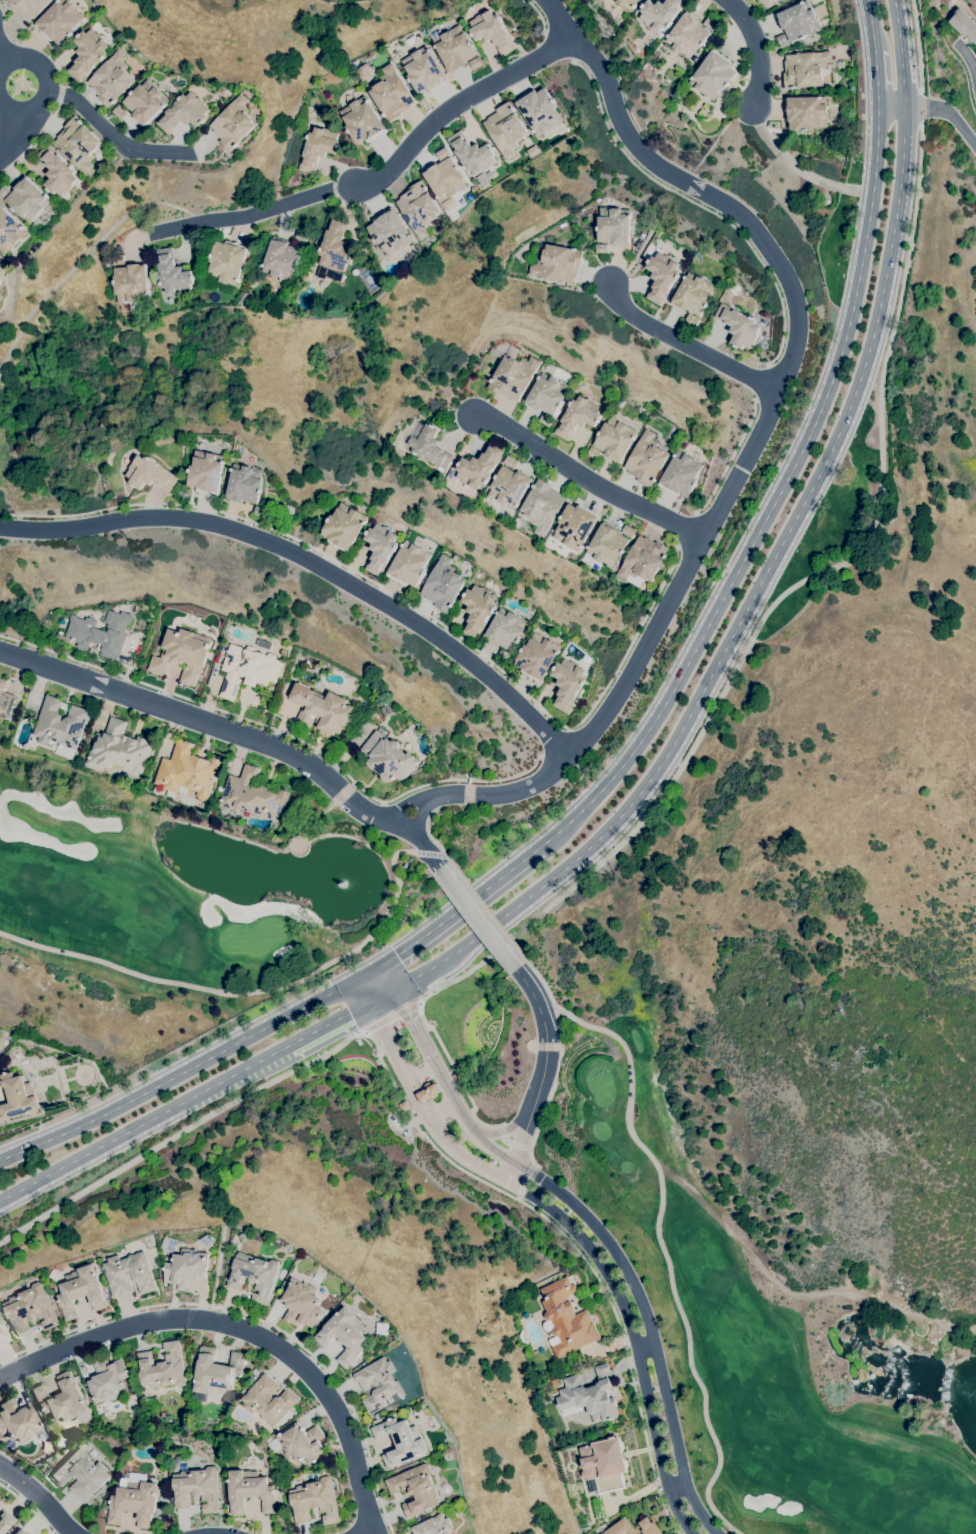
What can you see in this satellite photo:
building: (767, 2)
building: (627, 3)
park: (972, 3)
building: (952, 5)
building: (29, 6)
building: (660, 13)
road: (538, 14)
building: (60, 21)
building: (798, 21)
building: (710, 24)
building: (964, 25)
road: (872, 30)
building: (492, 32)
building: (687, 35)
building: (782, 41)
road: (560, 46)
road: (918, 46)
building: (453, 47)
road: (754, 49)
building: (975, 51)
building: (88, 53)
road: (3, 55)
road: (970, 59)
building: (475, 63)
building: (423, 69)
building: (805, 69)
building: (713, 75)
building: (111, 79)
road: (47, 84)
road: (876, 84)
building: (391, 94)
building: (145, 101)
road: (891, 107)
road: (921, 108)
building: (539, 111)
road: (947, 111)
building: (119, 112)
building: (183, 113)
building: (807, 113)
building: (362, 120)
building: (233, 123)
building: (505, 129)
road: (10, 130)
road: (111, 135)
road: (36, 139)
building: (78, 144)
building: (317, 148)
building: (532, 151)
building: (442, 153)
building: (471, 153)
road: (797, 168)
building: (57, 171)
road: (380, 179)
building: (445, 179)
building: (4, 191)
building: (27, 199)
road: (696, 206)
building: (420, 211)
building: (613, 226)
building: (9, 231)
building: (389, 232)
building: (301, 235)
building: (335, 248)
building: (601, 248)
building: (281, 259)
building: (118, 260)
building: (557, 263)
building: (107, 265)
building: (226, 265)
building: (2, 271)
building: (172, 273)
building: (661, 276)
building: (130, 283)
building: (735, 290)
building: (693, 295)
building: (247, 298)
building: (692, 319)
building: (738, 326)
road: (687, 346)
building: (513, 377)
road: (760, 382)
building: (547, 394)
building: (578, 417)
building: (546, 420)
road: (761, 421)
building: (615, 439)
building: (429, 445)
building: (593, 452)
road: (729, 458)
building: (646, 460)
building: (510, 462)
building: (478, 467)
building: (208, 472)
building: (151, 474)
building: (681, 474)
road: (588, 475)
building: (247, 484)
building: (508, 487)
building: (542, 506)
road: (771, 506)
building: (261, 511)
building: (344, 526)
building: (574, 526)
road: (686, 526)
building: (628, 531)
building: (607, 545)
building: (380, 547)
building: (643, 559)
road: (772, 559)
road: (313, 561)
building: (409, 564)
building: (443, 585)
road: (791, 587)
road: (404, 601)
building: (477, 610)
building: (505, 630)
building: (100, 633)
building: (264, 644)
building: (183, 655)
building: (505, 655)
building: (537, 656)
building: (248, 669)
building: (567, 683)
building: (282, 688)
building: (366, 693)
building: (5, 700)
building: (322, 710)
building: (60, 726)
road: (281, 732)
road: (235, 733)
road: (555, 740)
building: (119, 749)
building: (388, 758)
building: (187, 771)
building: (253, 795)
road: (404, 806)
road: (419, 814)
road: (430, 835)
road: (431, 852)
road: (395, 875)
park: (190, 891)
road: (461, 907)
road: (488, 908)
road: (477, 916)
road: (351, 950)
traffic signals: (396, 956)
road: (367, 972)
road: (388, 976)
road: (456, 978)
road: (440, 986)
road: (258, 990)
road: (360, 992)
road: (381, 996)
road: (423, 996)
road: (400, 999)
road: (413, 1006)
traffic signals: (349, 1013)
road: (372, 1014)
road: (383, 1020)
fountain: (432, 1022)
road: (326, 1025)
road: (545, 1029)
road: (420, 1037)
road: (547, 1046)
fountain: (377, 1053)
road: (558, 1062)
road: (400, 1064)
road: (421, 1072)
road: (179, 1074)
road: (452, 1076)
building: (428, 1092)
building: (17, 1096)
building: (404, 1106)
road: (440, 1107)
road: (142, 1121)
road: (511, 1126)
road: (178, 1131)
road: (522, 1139)
road: (509, 1142)
road: (523, 1180)
building: (208, 1240)
road: (571, 1242)
building: (169, 1244)
road: (667, 1253)
road: (627, 1267)
building: (186, 1269)
building: (129, 1274)
building: (254, 1276)
road: (612, 1282)
building: (81, 1291)
road: (798, 1292)
building: (301, 1304)
building: (30, 1309)
road: (255, 1317)
building: (567, 1318)
park: (775, 1320)
building: (383, 1328)
building: (2, 1333)
building: (343, 1335)
road: (73, 1345)
road: (646, 1345)
building: (162, 1367)
building: (216, 1373)
road: (310, 1373)
building: (107, 1380)
building: (379, 1385)
building: (589, 1395)
building: (61, 1399)
building: (269, 1400)
building: (151, 1402)
building: (17, 1420)
building: (400, 1441)
building: (302, 1443)
building: (48, 1448)
building: (604, 1464)
building: (80, 1474)
building: (285, 1482)
road: (675, 1483)
building: (197, 1488)
building: (415, 1489)
building: (249, 1491)
road: (40, 1495)
building: (315, 1501)
building: (134, 1503)
road: (29, 1506)
building: (4, 1521)
building: (433, 1526)
building: (632, 1527)
building: (19, 1532)
road: (369, 1532)

